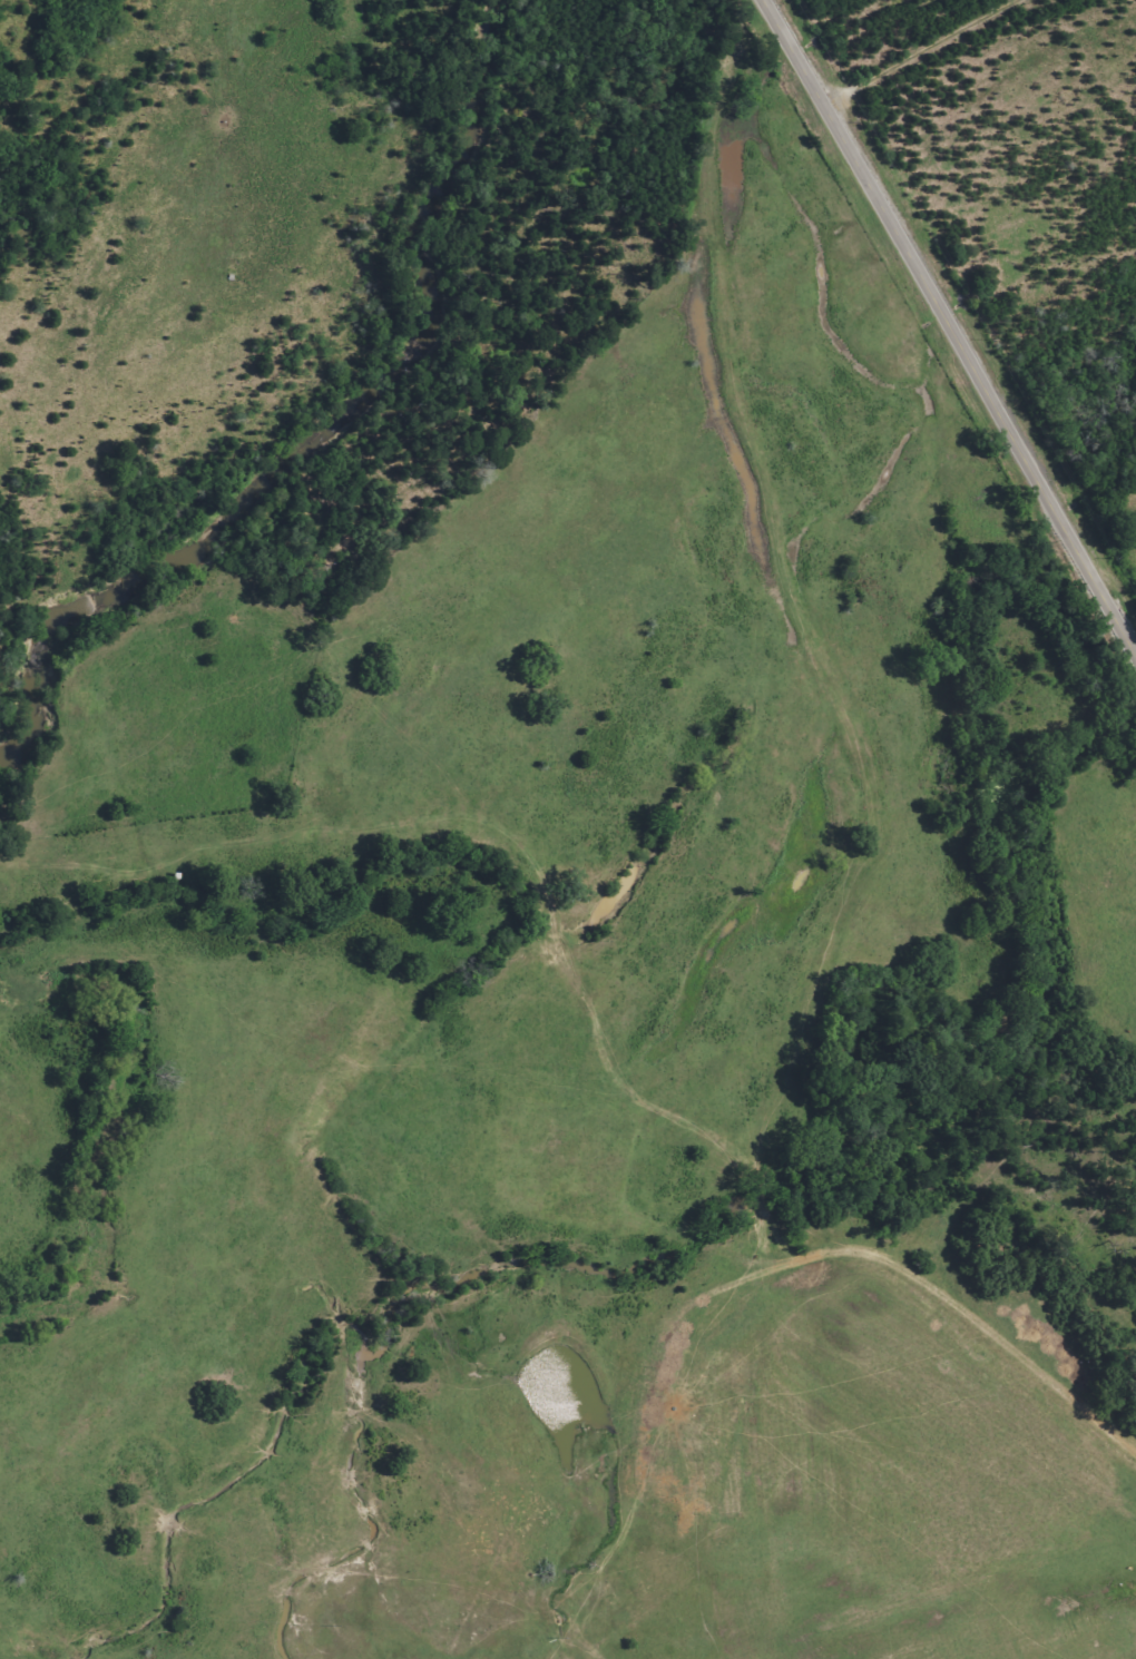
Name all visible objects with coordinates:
road: (951, 326)

